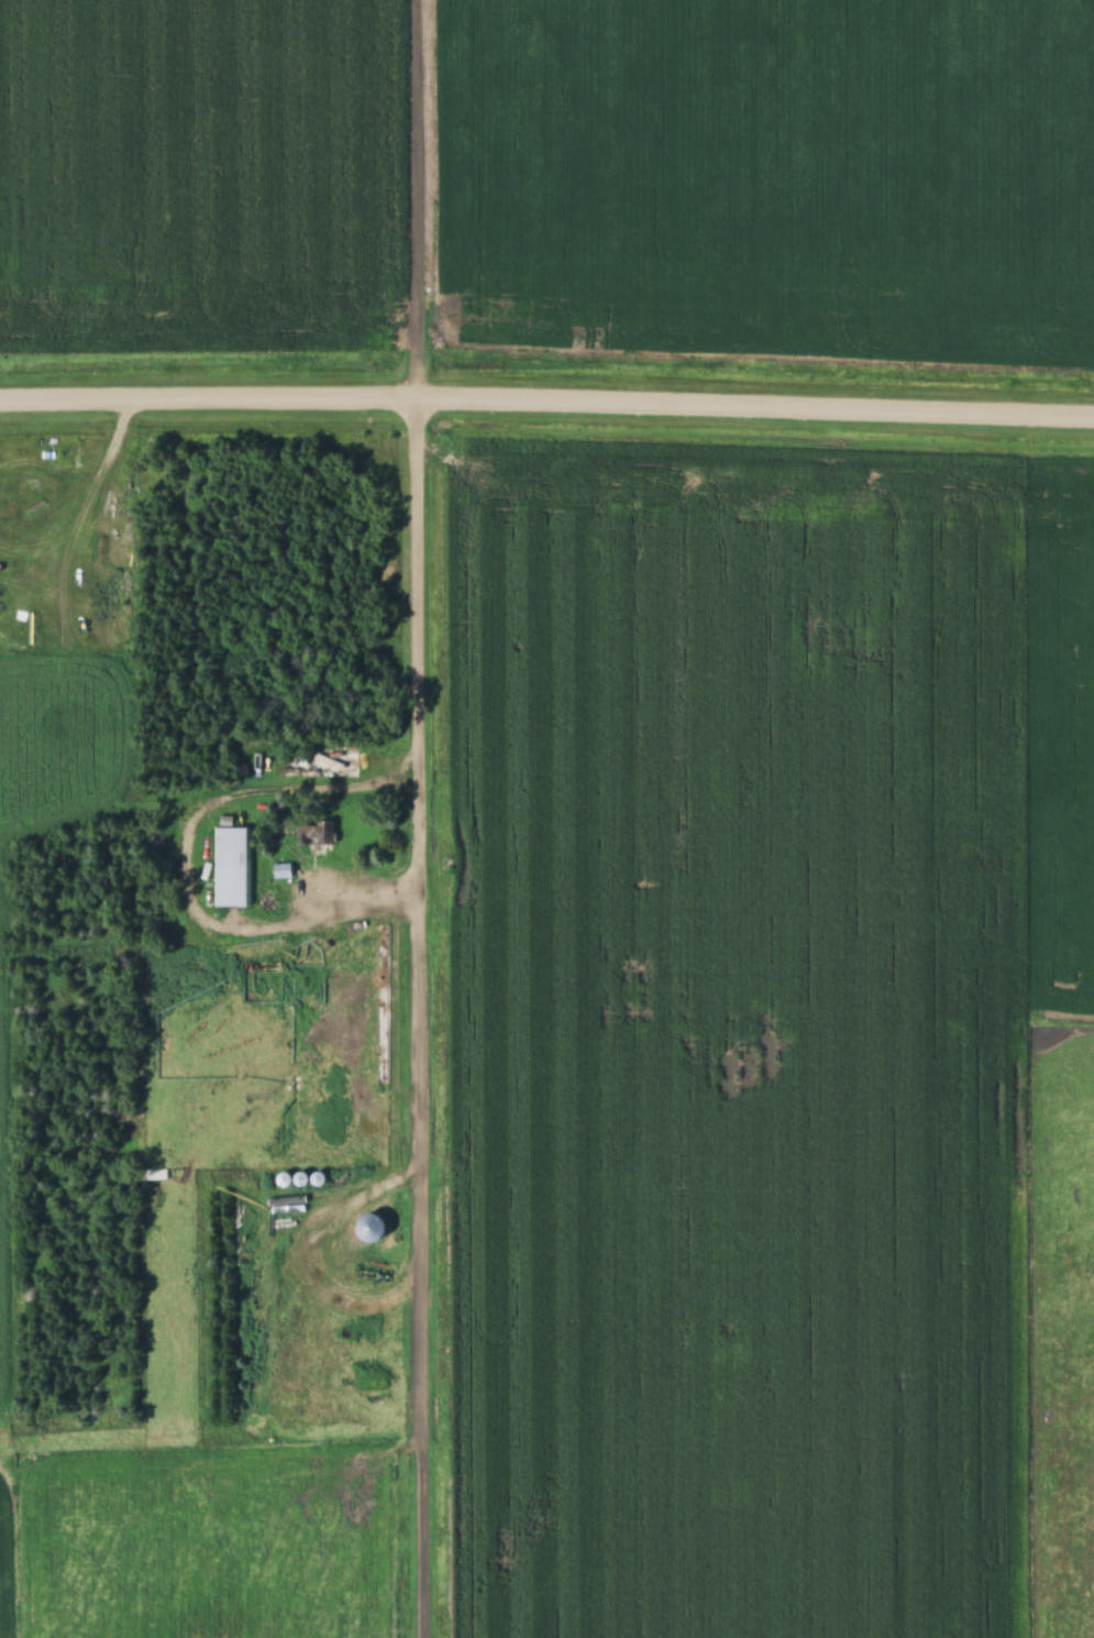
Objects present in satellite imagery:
road: (546, 405)
road: (416, 818)
building: (314, 833)
building: (230, 867)
building: (308, 954)
building: (262, 968)
building: (283, 1132)
building: (369, 1229)

